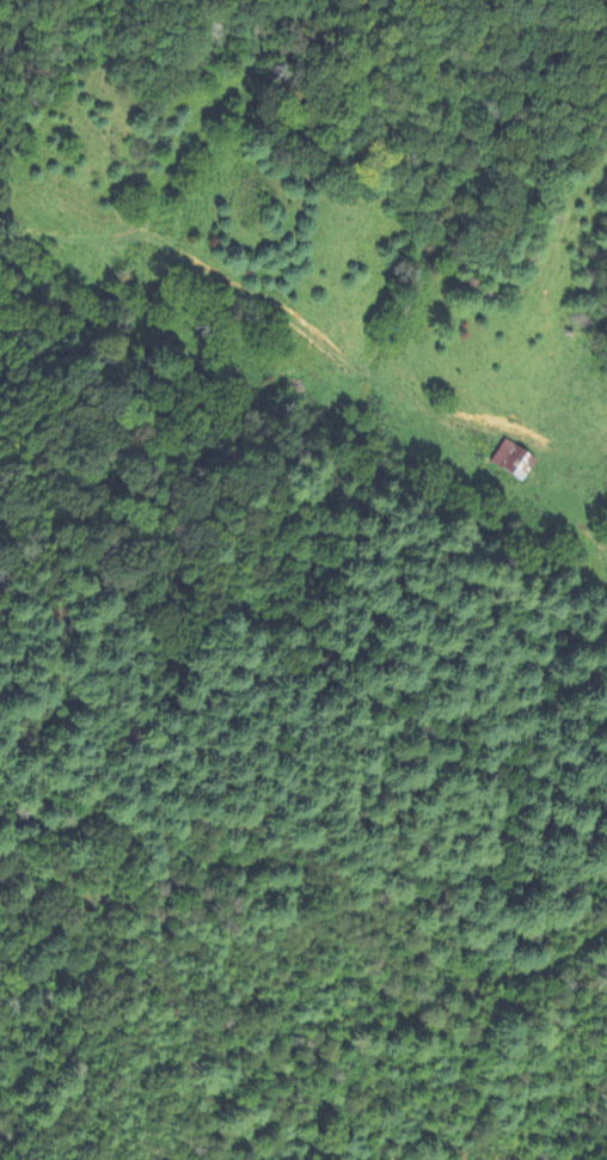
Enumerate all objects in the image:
building: (511, 460)

